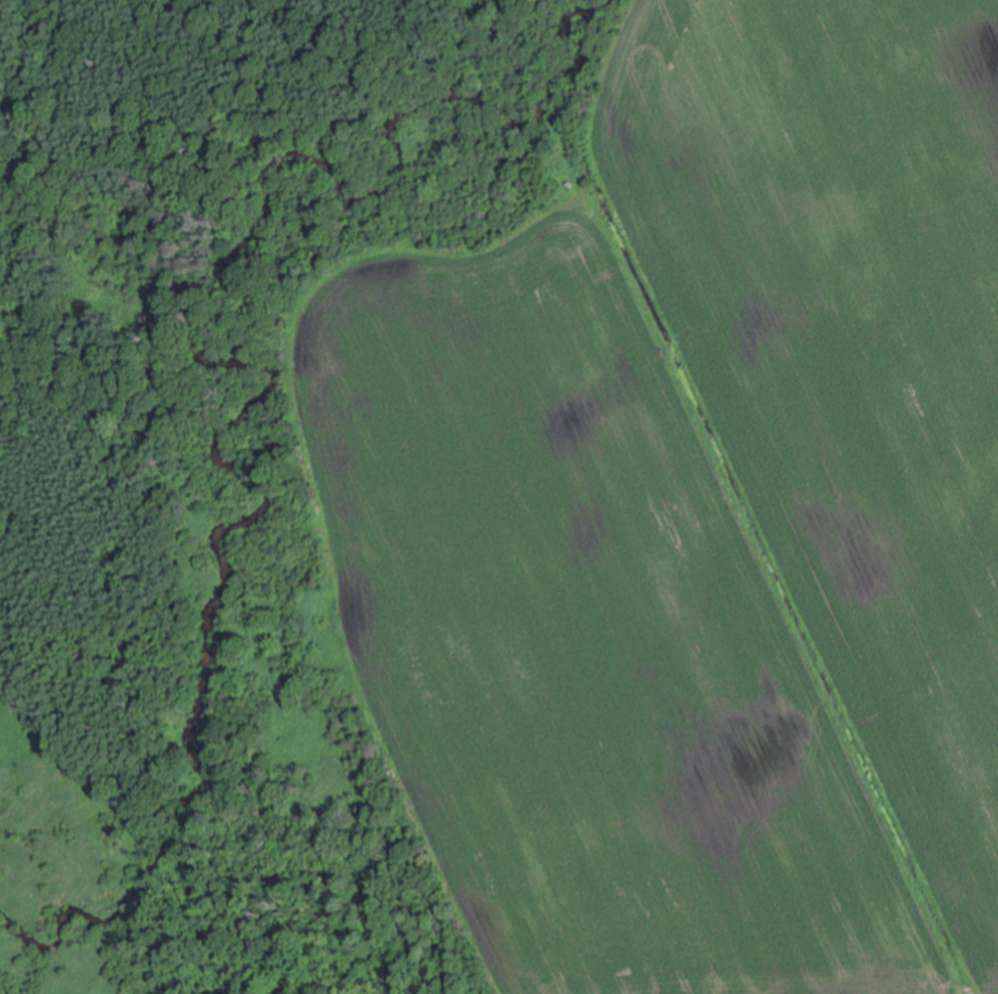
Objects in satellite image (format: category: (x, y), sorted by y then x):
river: (273, 360)

